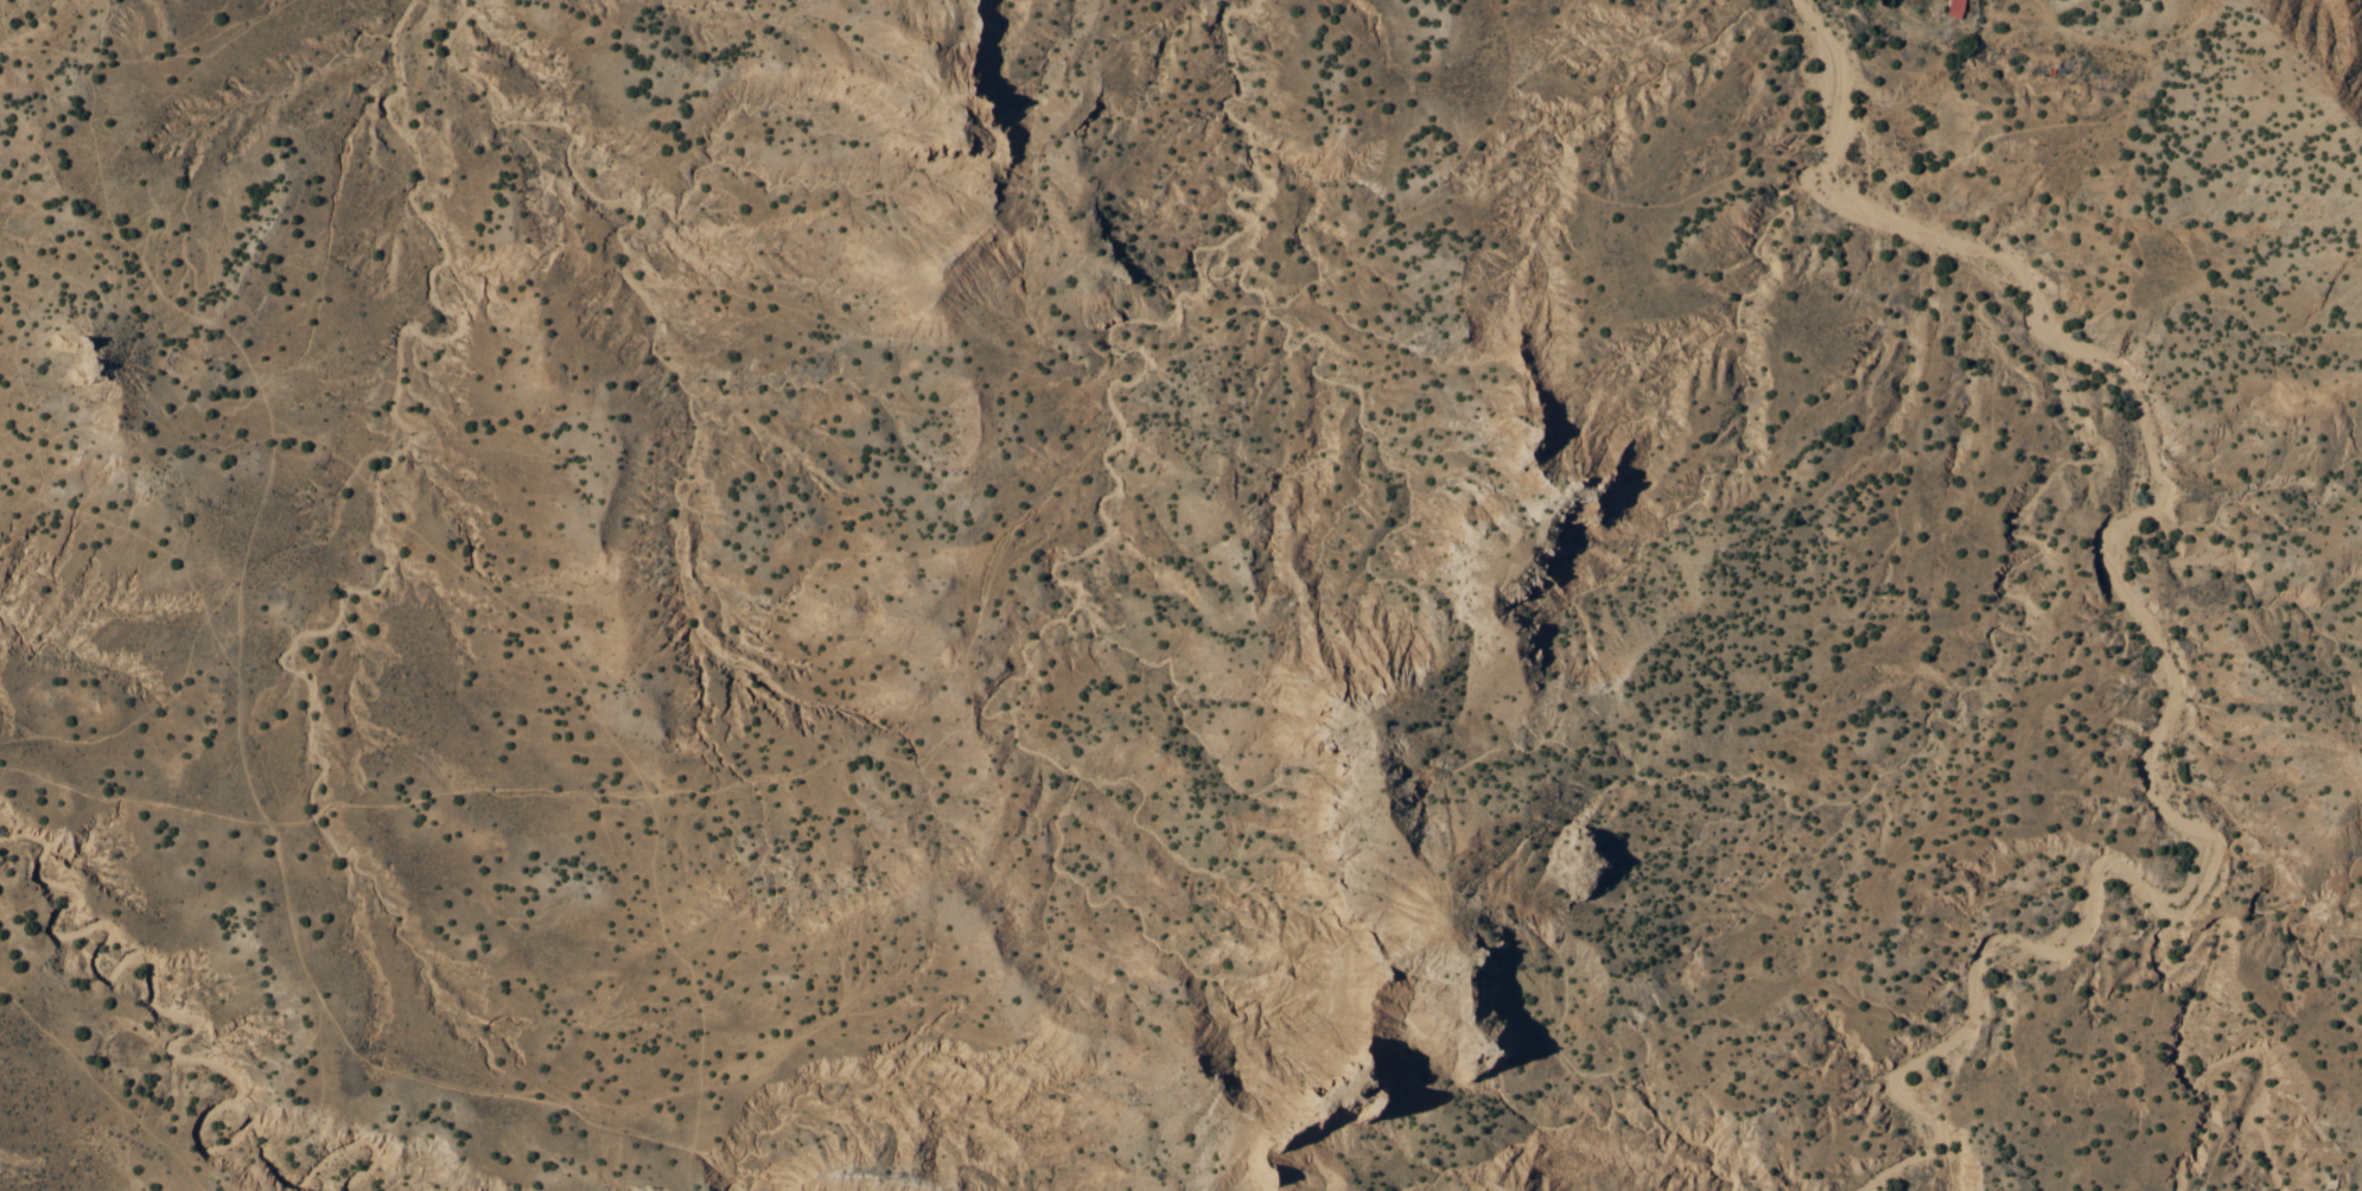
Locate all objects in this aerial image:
building: (1953, 7)

